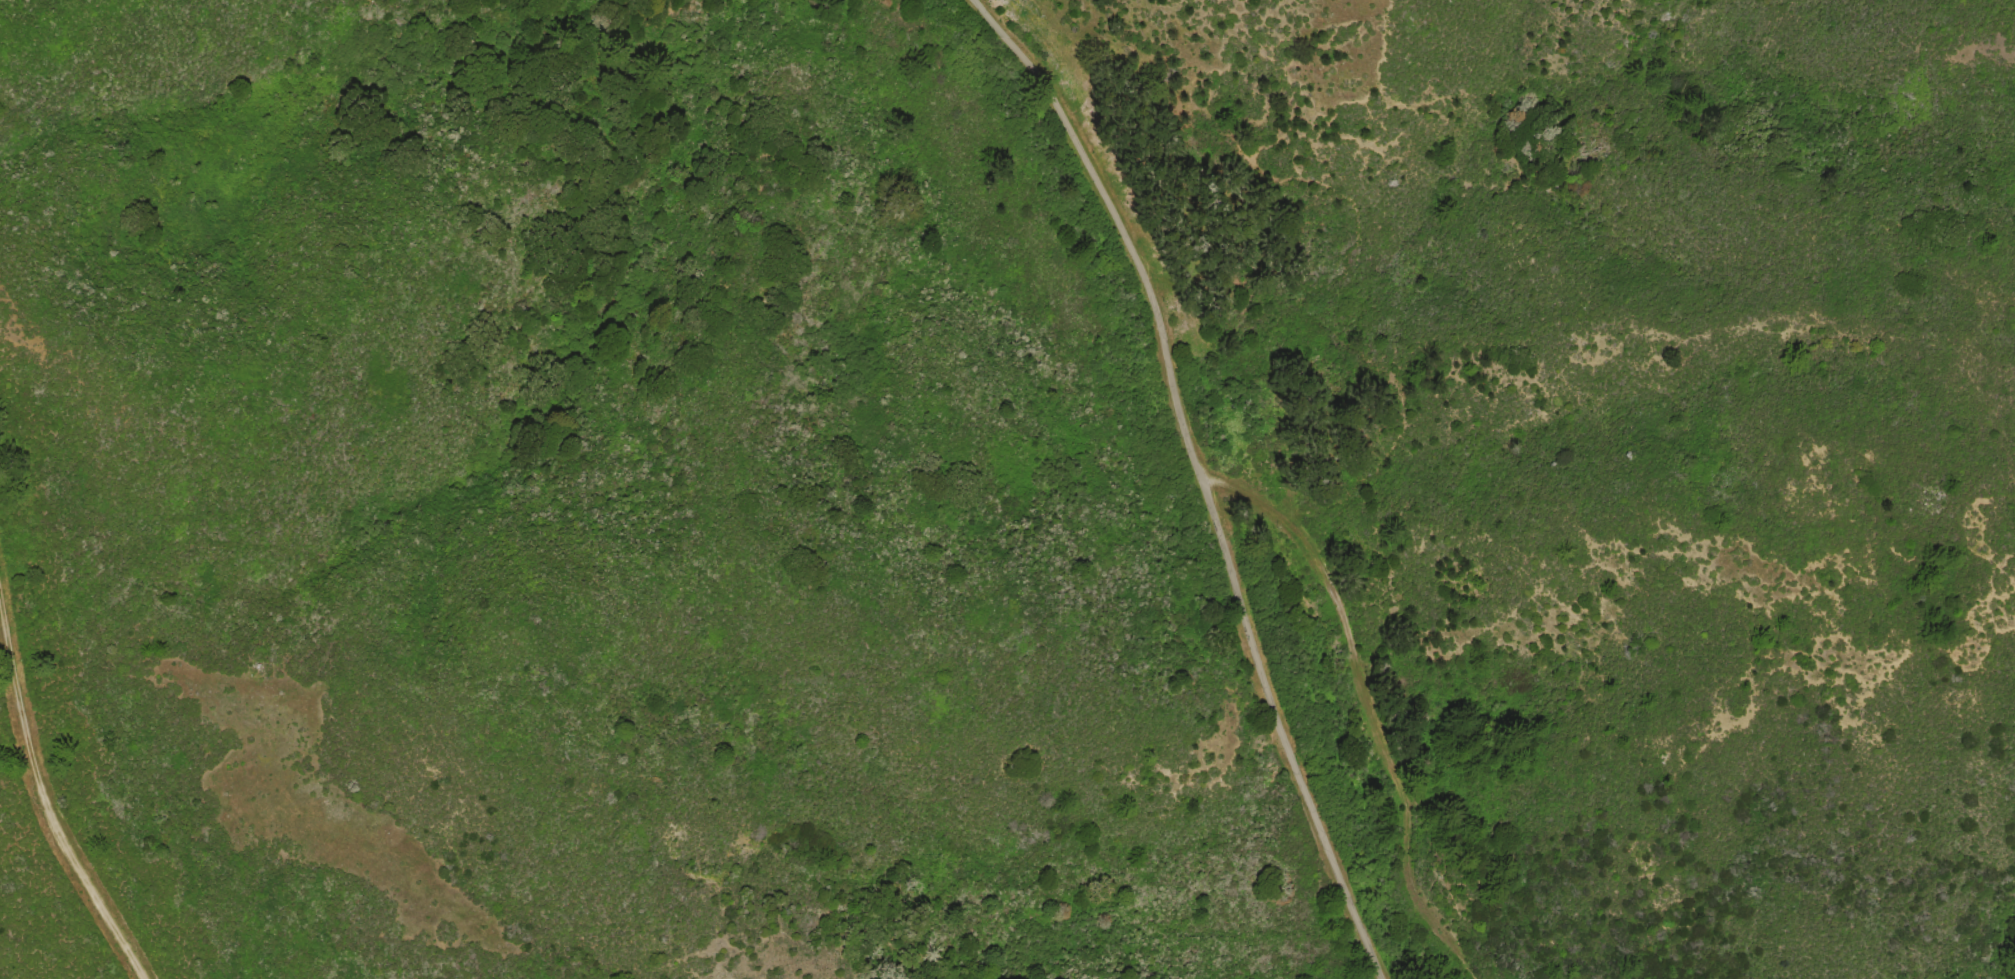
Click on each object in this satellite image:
road: (1207, 479)
road: (44, 800)

